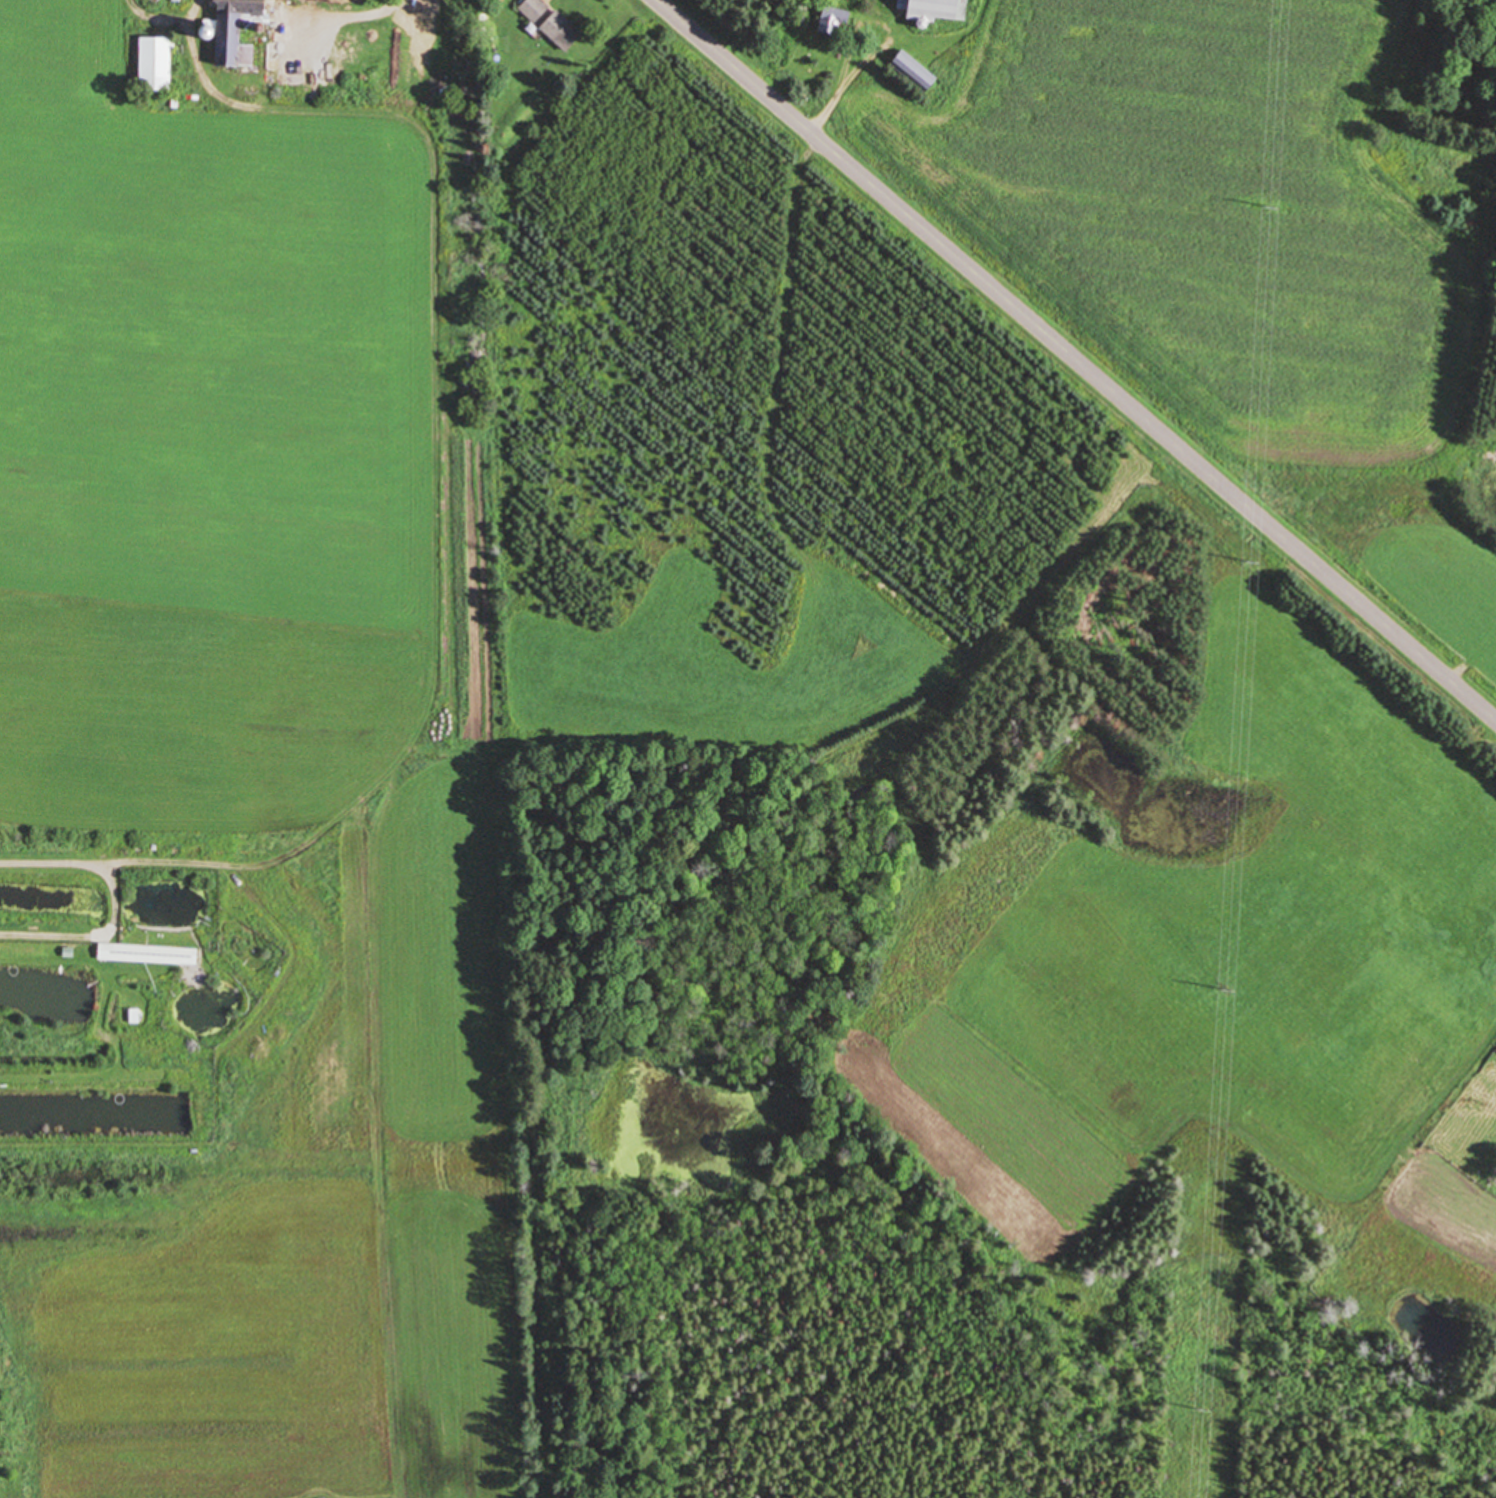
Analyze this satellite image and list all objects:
building: (536, 10)
building: (939, 10)
building: (238, 25)
building: (564, 32)
road: (852, 49)
building: (299, 53)
road: (873, 59)
building: (158, 64)
building: (917, 71)
road: (826, 112)
power tower: (1270, 204)
road: (1076, 358)
road: (436, 461)
power tower: (1251, 563)
road: (116, 902)
building: (150, 954)
power tower: (1226, 988)
power tower: (1202, 1408)

